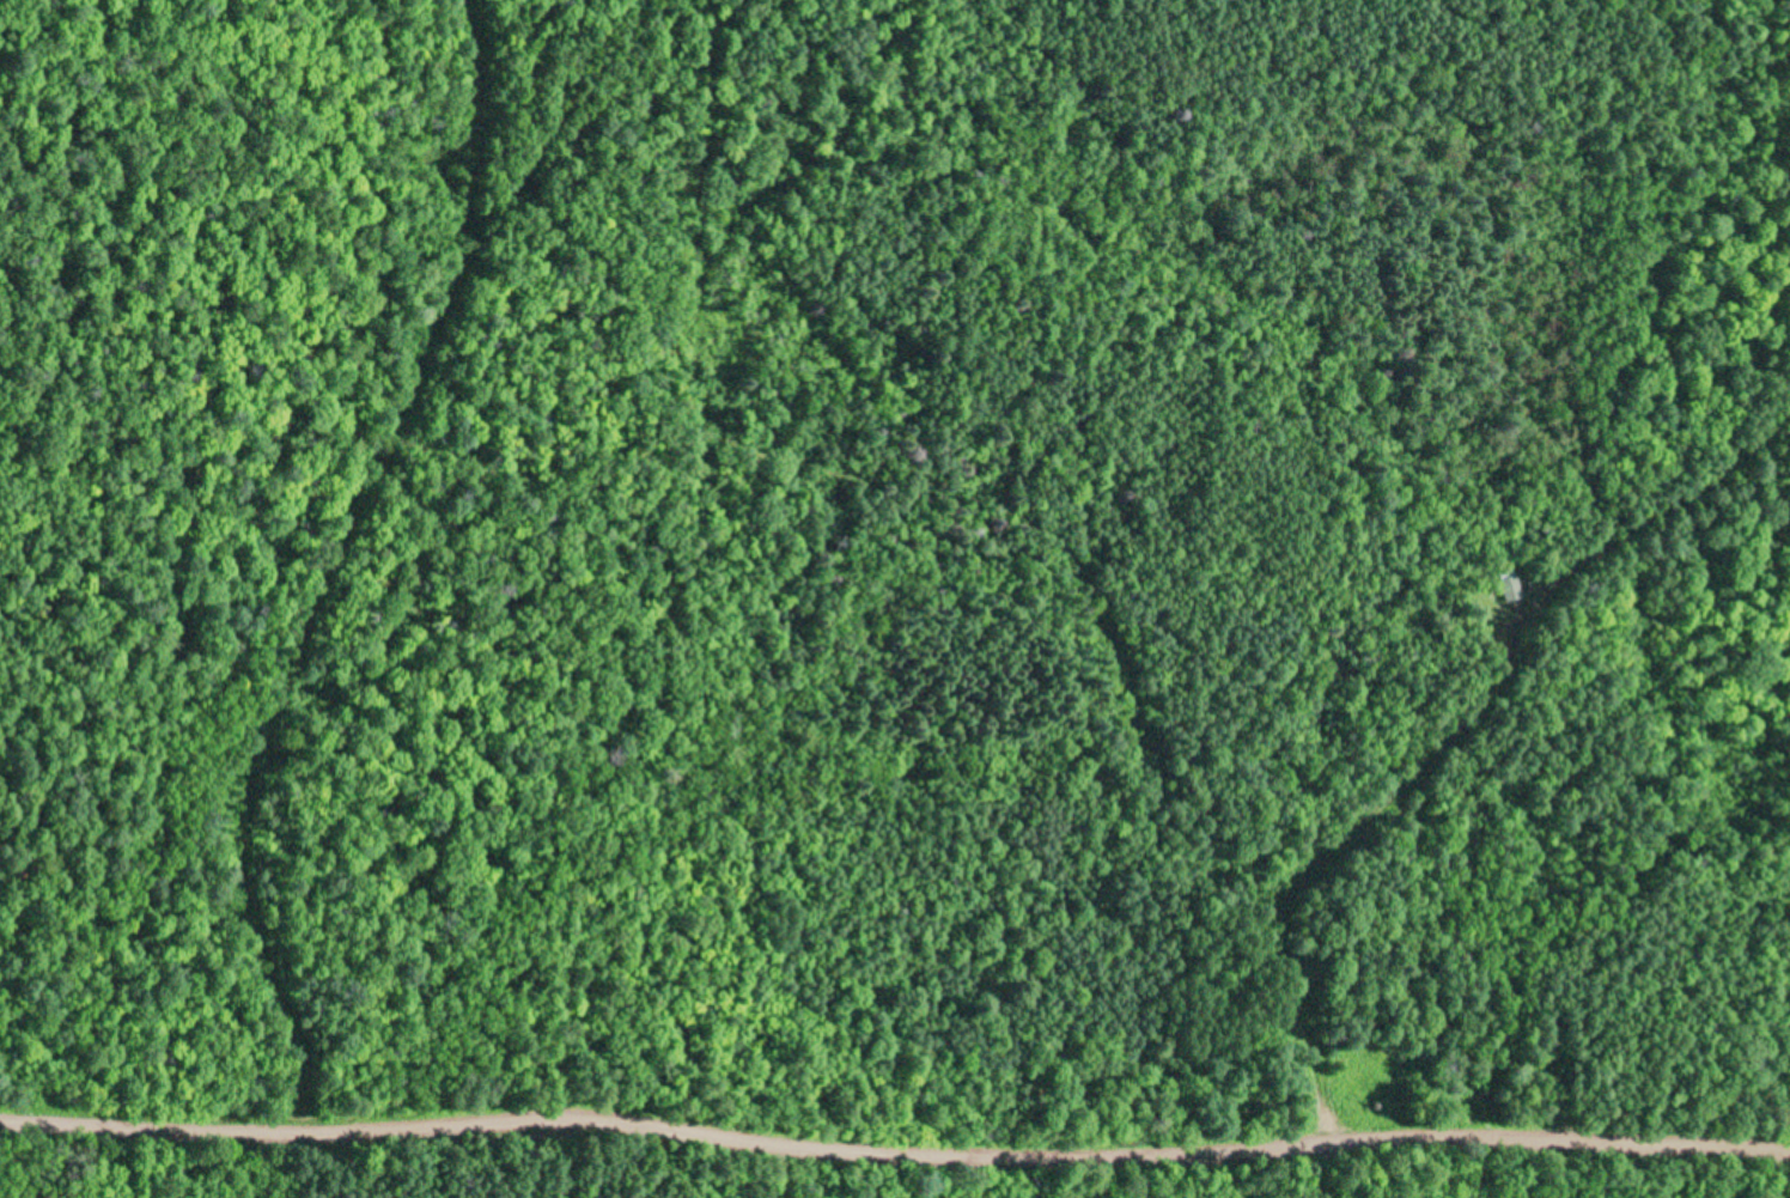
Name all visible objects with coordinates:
building: (1510, 584)
road: (894, 1159)

